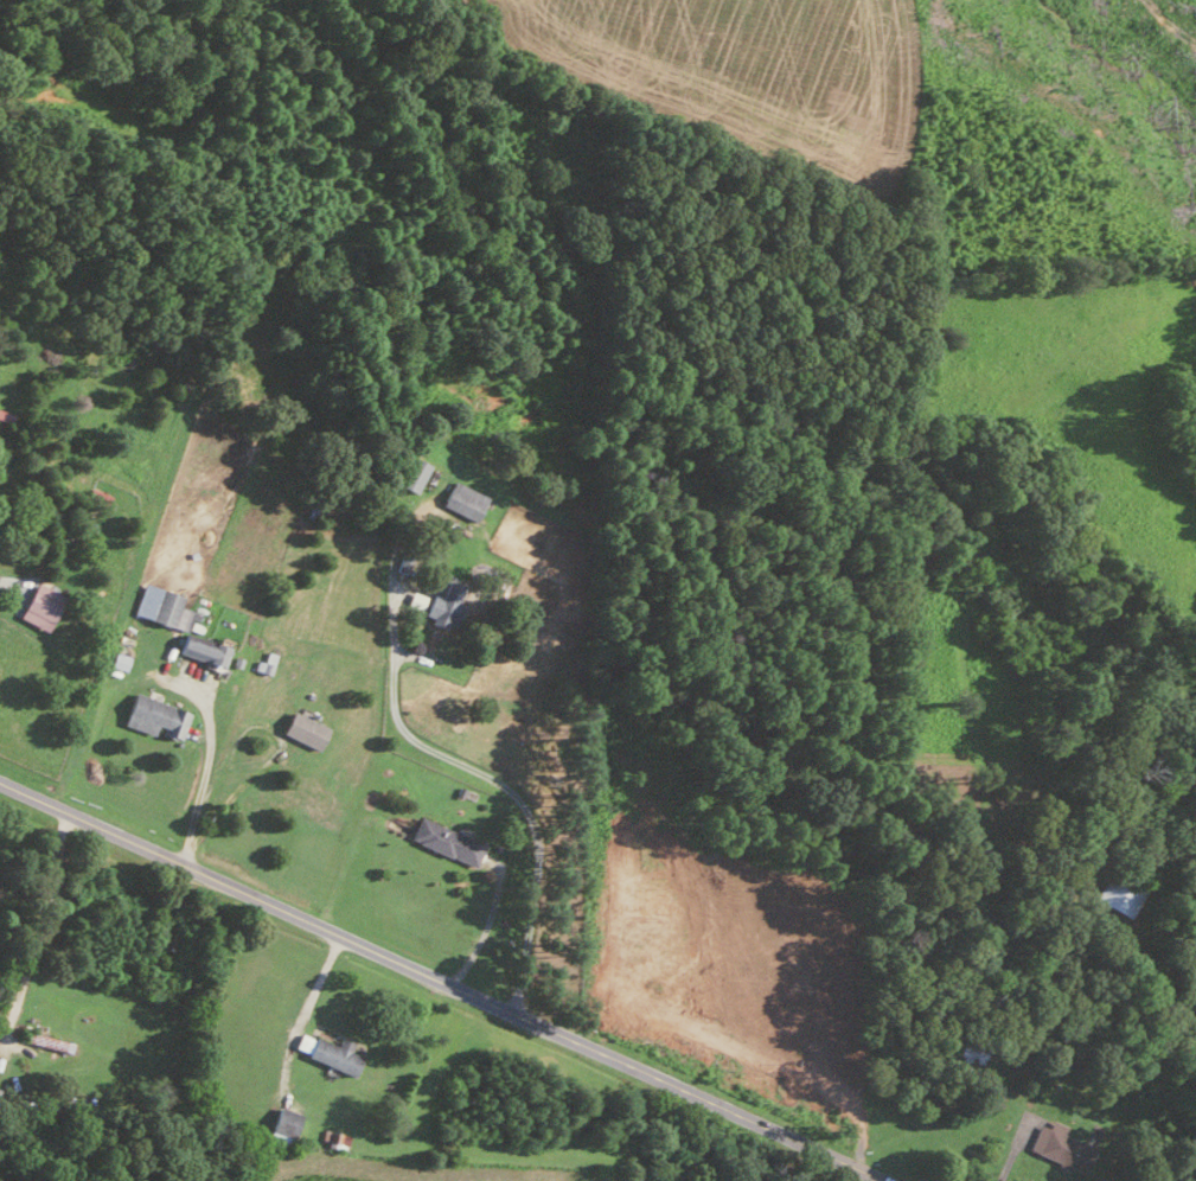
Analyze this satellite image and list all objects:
building: (411, 474)
building: (461, 500)
building: (37, 604)
building: (442, 606)
building: (177, 624)
building: (261, 666)
building: (152, 716)
building: (301, 729)
road: (207, 773)
road: (491, 775)
building: (443, 841)
road: (43, 925)
road: (439, 977)
building: (325, 1051)
building: (281, 1124)
building: (333, 1137)
building: (1057, 1145)

